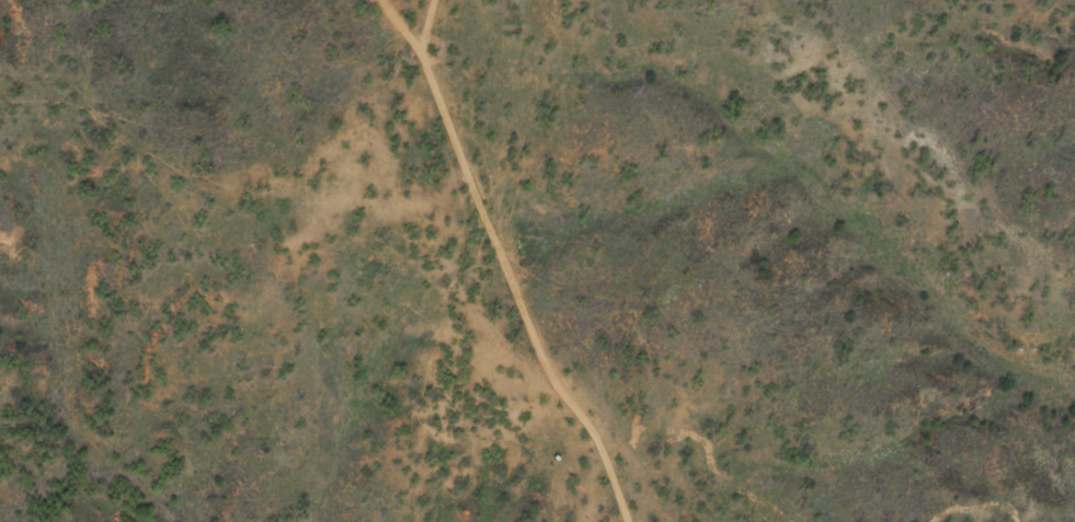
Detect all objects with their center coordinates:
road: (505, 259)

